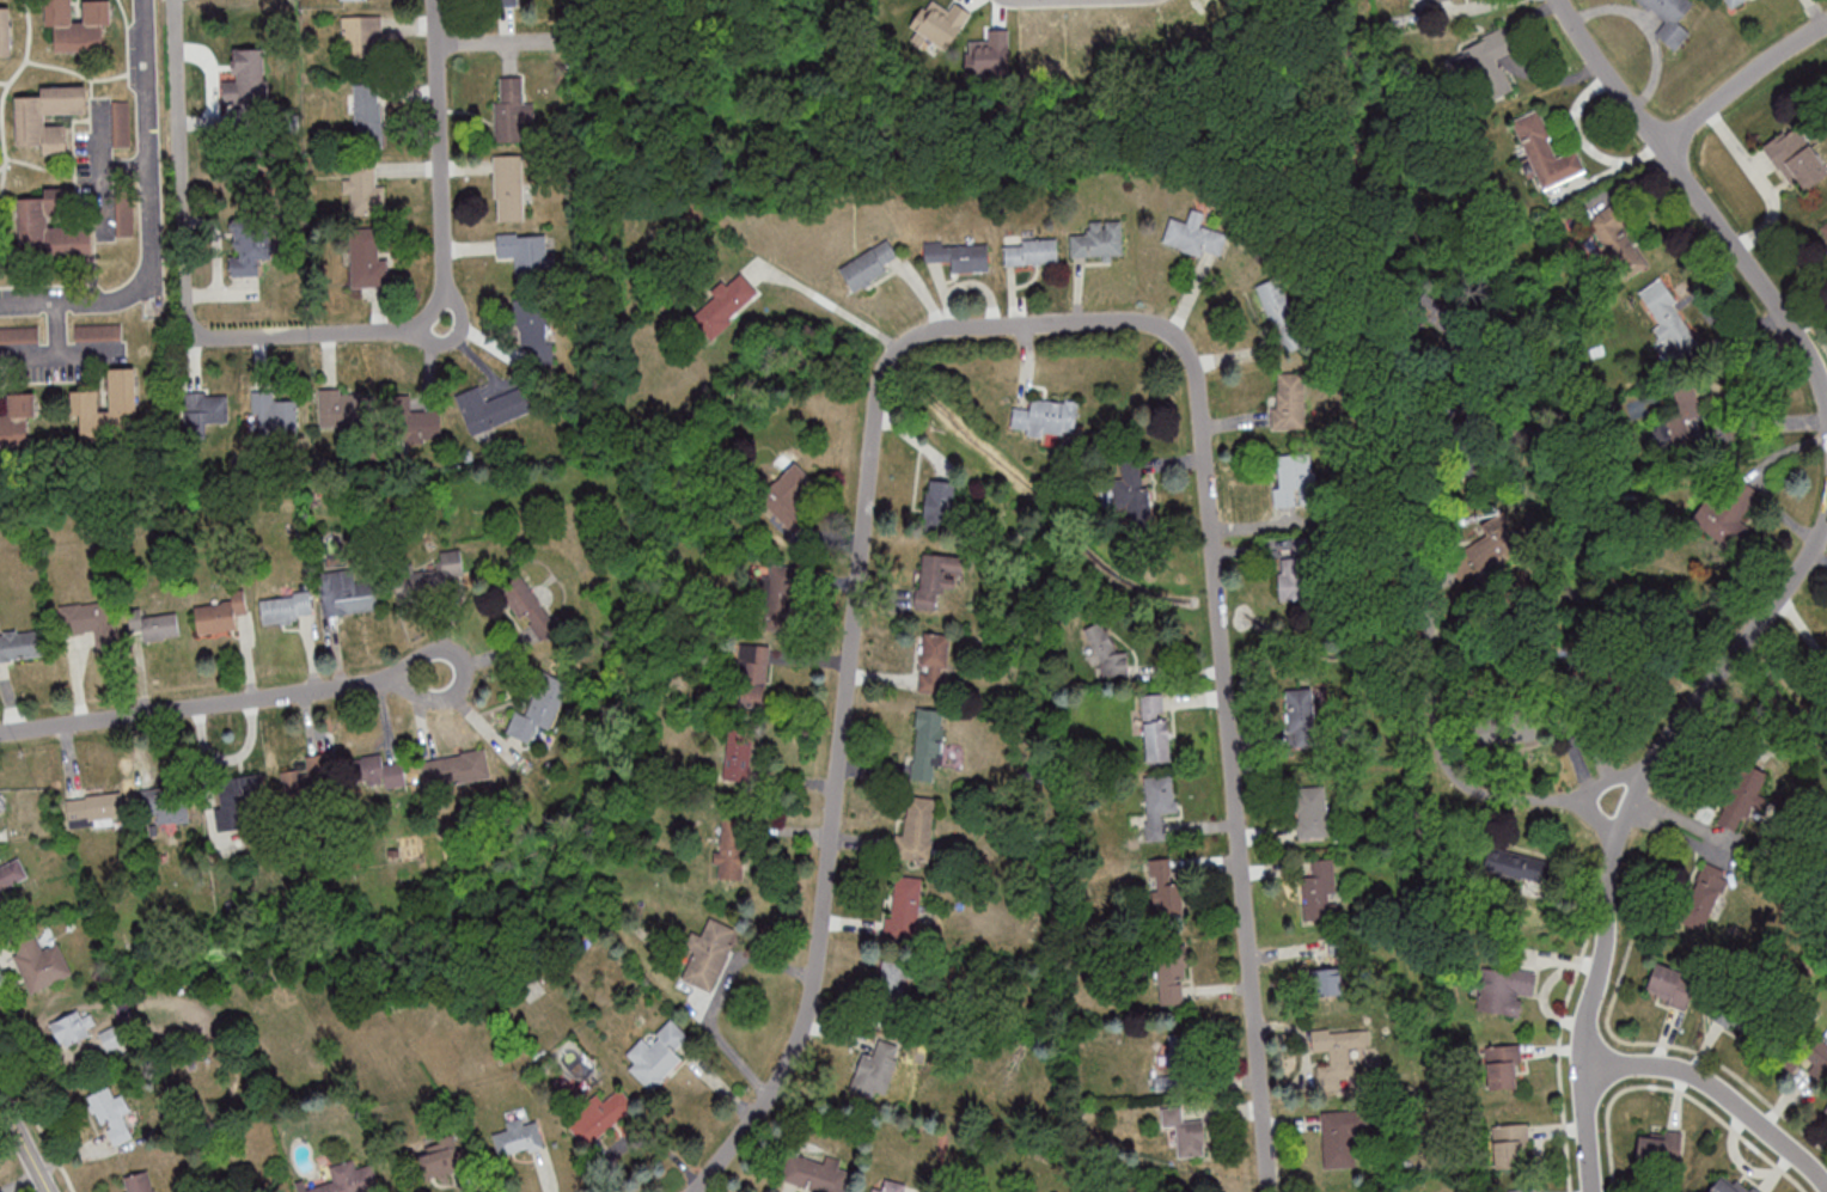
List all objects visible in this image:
building: (1435, 0)
building: (503, 2)
building: (1733, 2)
building: (1669, 18)
building: (78, 24)
building: (5, 31)
building: (361, 42)
road: (501, 43)
building: (1484, 66)
building: (248, 77)
road: (1742, 82)
building: (513, 111)
building: (367, 114)
building: (31, 120)
building: (121, 123)
road: (149, 145)
building: (1546, 153)
building: (1796, 158)
road: (441, 172)
building: (509, 187)
building: (365, 190)
road: (1698, 195)
building: (124, 216)
building: (50, 226)
building: (1823, 228)
building: (1194, 236)
building: (1099, 240)
building: (1617, 240)
building: (249, 246)
building: (1031, 251)
building: (525, 252)
building: (959, 256)
building: (366, 261)
building: (868, 265)
road: (182, 277)
road: (72, 301)
road: (831, 302)
building: (726, 304)
building: (1281, 314)
building: (1672, 326)
building: (1442, 329)
building: (532, 331)
building: (84, 401)
building: (1288, 401)
building: (491, 408)
building: (343, 409)
building: (203, 411)
building: (274, 414)
building: (1046, 417)
building: (17, 418)
building: (410, 422)
building: (1680, 422)
building: (1293, 478)
building: (1132, 489)
building: (789, 496)
building: (939, 502)
building: (1729, 511)
building: (1489, 544)
building: (1296, 568)
road: (1428, 576)
building: (430, 577)
building: (936, 579)
building: (774, 587)
building: (347, 593)
building: (528, 606)
building: (286, 609)
building: (220, 613)
building: (88, 621)
building: (155, 622)
road: (854, 635)
building: (22, 644)
building: (1108, 654)
building: (934, 662)
road: (462, 671)
building: (753, 673)
road: (194, 708)
building: (539, 708)
building: (1301, 716)
building: (1155, 728)
building: (928, 744)
building: (738, 756)
building: (456, 769)
road: (1233, 769)
building: (380, 772)
building: (303, 782)
road: (1547, 796)
building: (1743, 797)
building: (1160, 802)
building: (239, 803)
building: (94, 807)
building: (166, 807)
building: (1, 808)
building: (1312, 812)
road: (1607, 818)
building: (916, 830)
building: (732, 848)
building: (1515, 866)
building: (12, 874)
building: (1166, 887)
building: (1320, 891)
building: (904, 906)
building: (709, 954)
building: (41, 962)
building: (1172, 974)
building: (893, 980)
building: (1326, 980)
building: (1669, 985)
building: (1505, 990)
building: (1734, 1010)
building: (74, 1026)
building: (112, 1037)
building: (1180, 1045)
building: (1342, 1052)
building: (1809, 1053)
building: (658, 1056)
building: (1504, 1065)
building: (873, 1075)
building: (1173, 1082)
road: (1721, 1092)
building: (111, 1113)
building: (1826, 1114)
building: (598, 1117)
building: (1185, 1131)
building: (517, 1137)
building: (1343, 1138)
road: (25, 1143)
building: (1510, 1145)
building: (1658, 1148)
building: (439, 1154)
building: (812, 1176)
building: (347, 1179)
building: (138, 1182)
building: (1729, 1184)
building: (893, 1186)
building: (1521, 1190)

